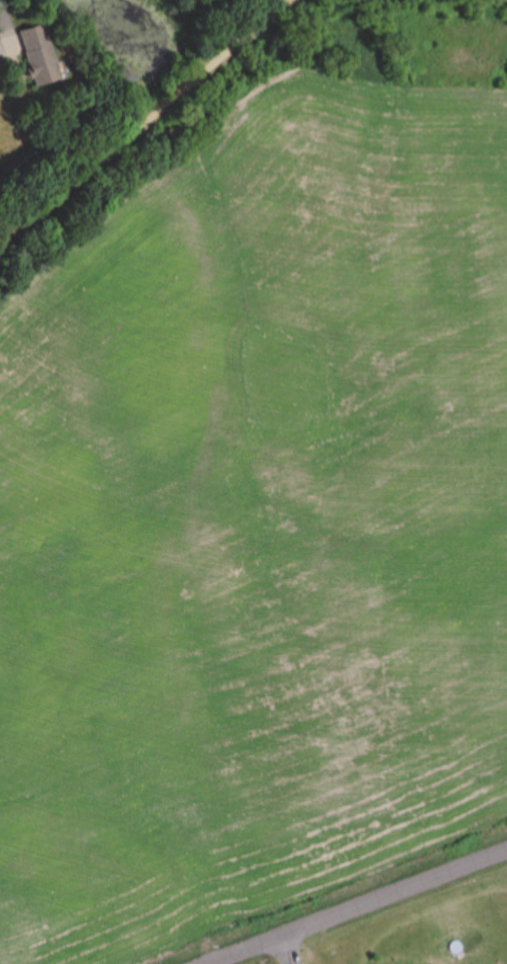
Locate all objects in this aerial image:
building: (36, 58)
road: (146, 123)
crop: (257, 525)
road: (355, 907)
road: (292, 948)

